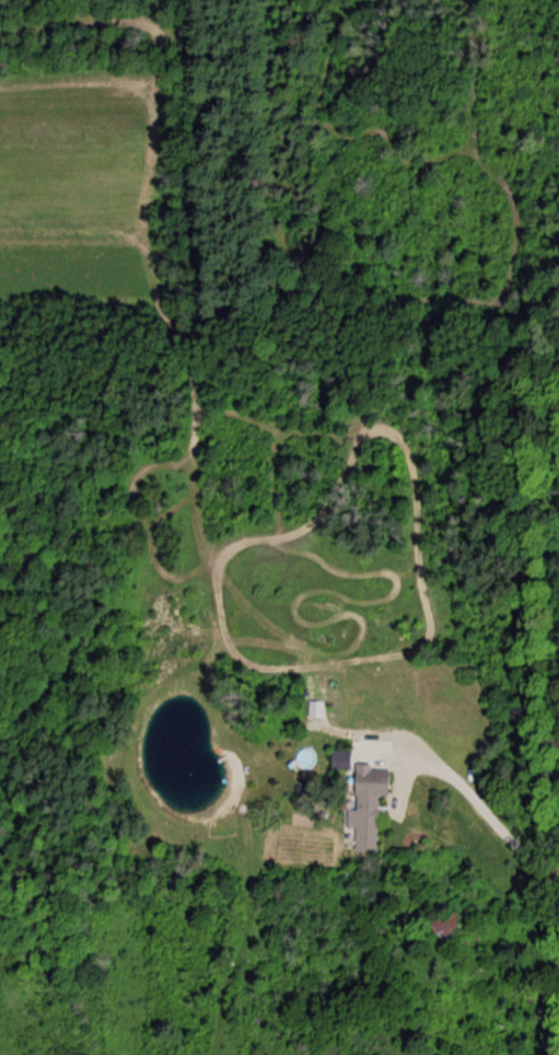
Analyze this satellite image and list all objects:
building: (361, 801)
building: (442, 930)

